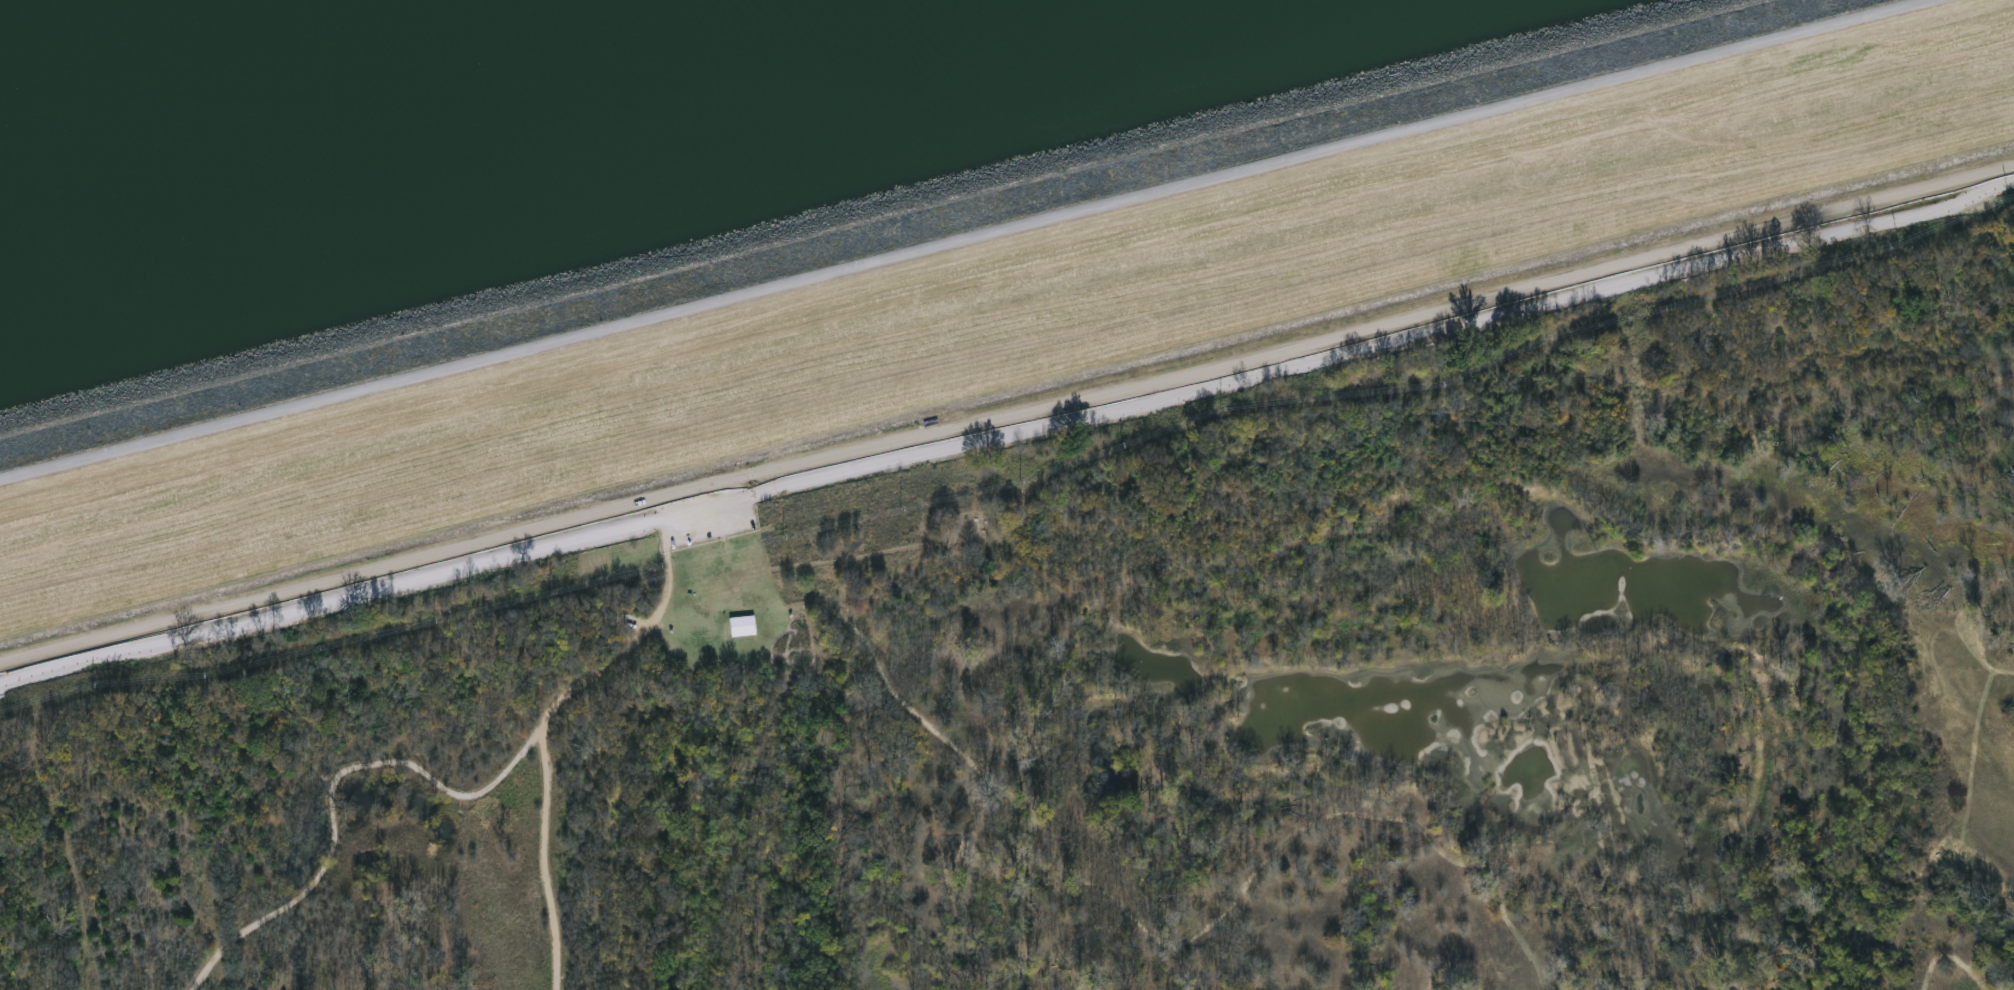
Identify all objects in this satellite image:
road: (960, 239)
dam: (976, 286)
road: (1007, 417)
building: (740, 628)
road: (214, 671)
road: (544, 716)
road: (949, 745)
road: (1992, 759)
road: (334, 793)
road: (1375, 813)
road: (1942, 960)

